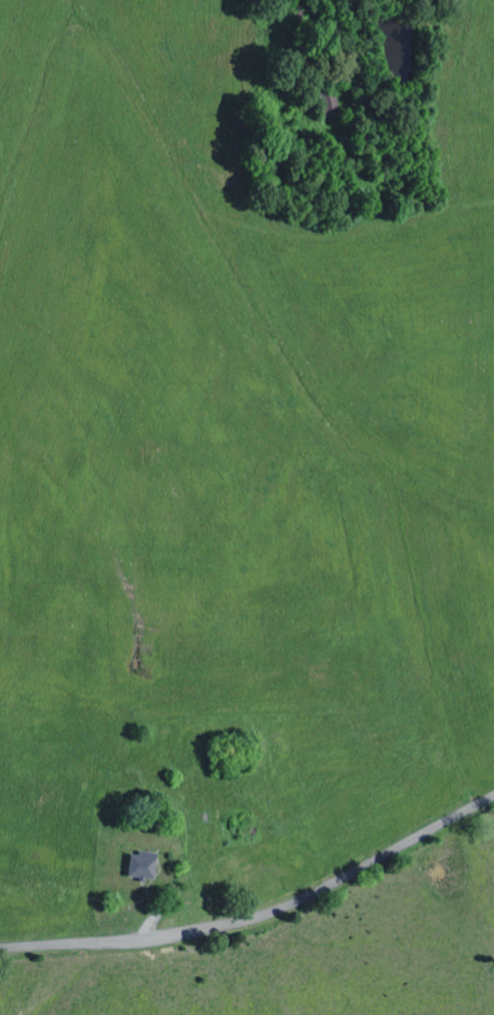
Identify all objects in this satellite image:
building: (145, 867)
road: (259, 918)

